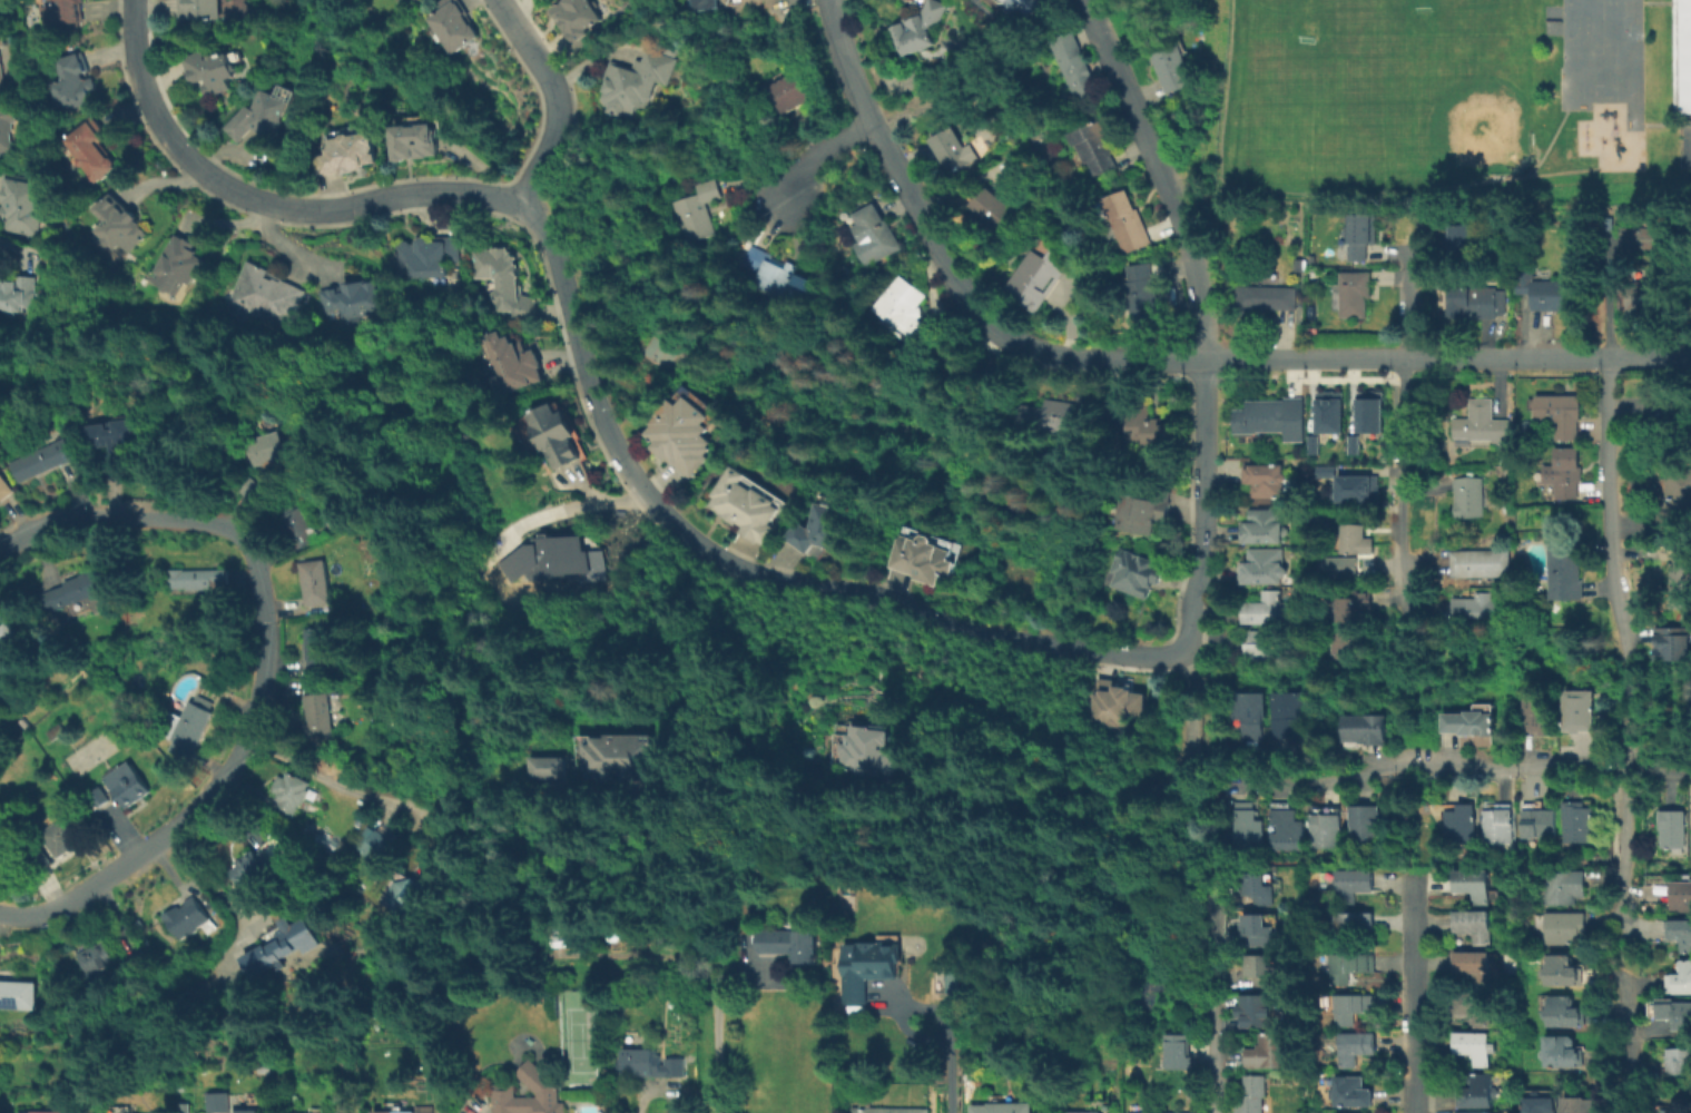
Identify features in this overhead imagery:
building: (707, 3)
building: (199, 8)
building: (1033, 8)
building: (66, 11)
building: (576, 20)
building: (453, 23)
building: (921, 24)
park: (1366, 30)
building: (668, 50)
building: (1680, 57)
building: (2, 61)
building: (1169, 65)
building: (208, 70)
building: (1076, 71)
building: (76, 80)
building: (633, 82)
building: (789, 90)
park: (1439, 90)
road: (1216, 95)
road: (556, 100)
road: (1622, 104)
park: (1446, 105)
building: (263, 110)
road: (1661, 126)
building: (9, 132)
building: (414, 141)
road: (1680, 142)
road: (1550, 145)
building: (96, 148)
building: (345, 149)
building: (1097, 149)
building: (953, 150)
road: (822, 156)
road: (1163, 173)
road: (897, 176)
road: (1386, 195)
road: (263, 200)
building: (23, 204)
building: (993, 209)
building: (696, 210)
building: (122, 220)
road: (1419, 221)
building: (1127, 223)
building: (875, 233)
building: (1356, 238)
building: (1639, 242)
building: (1458, 252)
building: (429, 254)
building: (1299, 265)
building: (177, 266)
building: (770, 274)
building: (1039, 274)
building: (507, 279)
building: (268, 293)
building: (19, 294)
building: (1541, 294)
building: (355, 296)
building: (1144, 296)
building: (1350, 297)
building: (1266, 299)
road: (1605, 299)
building: (1640, 303)
building: (1472, 304)
building: (906, 315)
road: (1344, 356)
building: (513, 361)
building: (952, 383)
building: (1058, 415)
building: (1653, 415)
building: (1689, 416)
building: (1557, 417)
building: (1268, 420)
building: (272, 422)
building: (1357, 422)
building: (1134, 424)
building: (1323, 425)
building: (1479, 426)
building: (684, 430)
building: (557, 432)
building: (112, 442)
road: (1413, 446)
road: (1203, 447)
building: (269, 449)
building: (43, 460)
building: (1327, 469)
building: (1567, 472)
building: (1264, 479)
building: (1357, 485)
building: (6, 486)
building: (254, 489)
building: (1471, 495)
building: (1678, 500)
road: (572, 505)
building: (744, 506)
building: (1508, 508)
building: (1144, 510)
building: (293, 518)
building: (1265, 524)
building: (822, 528)
building: (1357, 538)
building: (551, 558)
building: (926, 559)
road: (1610, 561)
building: (1483, 562)
building: (1264, 565)
building: (1347, 565)
building: (1567, 569)
road: (746, 570)
building: (1681, 573)
building: (1134, 578)
building: (199, 580)
building: (314, 583)
building: (76, 590)
road: (1189, 593)
building: (1356, 603)
building: (1267, 609)
building: (1484, 609)
building: (1678, 611)
building: (7, 633)
building: (1348, 643)
building: (1259, 644)
building: (1672, 647)
building: (317, 648)
road: (260, 667)
building: (1113, 702)
building: (317, 710)
building: (1576, 710)
building: (1537, 712)
road: (1190, 713)
building: (1251, 713)
building: (1290, 716)
building: (191, 719)
building: (1471, 723)
building: (1366, 728)
building: (57, 731)
building: (867, 748)
building: (603, 762)
road: (1431, 764)
road: (315, 775)
building: (127, 785)
building: (292, 790)
road: (858, 796)
building: (98, 798)
building: (1579, 820)
building: (1461, 823)
building: (1537, 823)
building: (1498, 824)
building: (1365, 826)
building: (1672, 827)
building: (1248, 828)
building: (1327, 828)
building: (1286, 829)
building: (61, 836)
building: (1690, 836)
building: (325, 840)
building: (375, 844)
road: (1623, 850)
building: (39, 856)
building: (250, 865)
road: (214, 869)
building: (1473, 888)
building: (1355, 889)
building: (1257, 890)
building: (1564, 892)
building: (414, 895)
building: (1681, 895)
building: (186, 920)
building: (1354, 929)
building: (1474, 929)
building: (1258, 932)
building: (1563, 932)
building: (1680, 933)
building: (277, 944)
building: (794, 945)
road: (1616, 957)
building: (95, 958)
building: (132, 961)
building: (867, 968)
building: (1353, 968)
building: (1476, 969)
building: (1264, 972)
building: (1559, 972)
building: (1681, 978)
building: (950, 981)
building: (18, 993)
road: (1414, 994)
building: (1474, 1007)
building: (1355, 1009)
building: (1260, 1012)
building: (1673, 1012)
building: (1562, 1013)
road: (1216, 1017)
park: (587, 1038)
road: (1630, 1045)
road: (945, 1046)
building: (1474, 1047)
building: (1357, 1048)
building: (1176, 1051)
road: (717, 1053)
building: (1564, 1053)
building: (1270, 1054)
building: (1680, 1060)
building: (652, 1062)
building: (540, 1080)
building: (1351, 1091)
road: (650, 1092)
building: (1477, 1092)
building: (1251, 1095)
building: (218, 1103)
building: (1540, 1104)
building: (1581, 1104)
building: (1002, 1107)
building: (186, 1109)
building: (429, 1109)
building: (888, 1110)
building: (41, 1111)
building: (249, 1112)
building: (1083, 1112)
building: (1163, 1112)
building: (1471, 1112)

